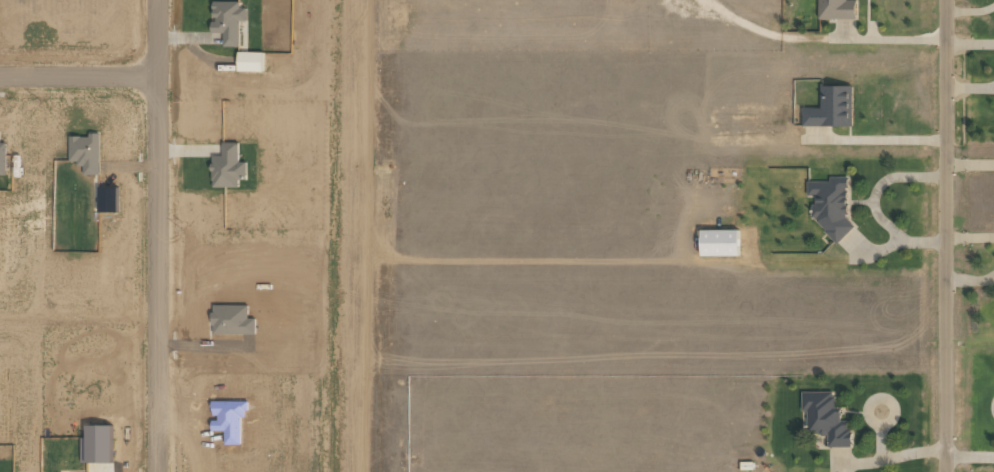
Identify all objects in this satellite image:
building: (836, 9)
road: (77, 75)
building: (830, 108)
building: (85, 152)
building: (2, 158)
building: (830, 203)
road: (155, 235)
road: (944, 236)
building: (718, 243)
building: (825, 418)

